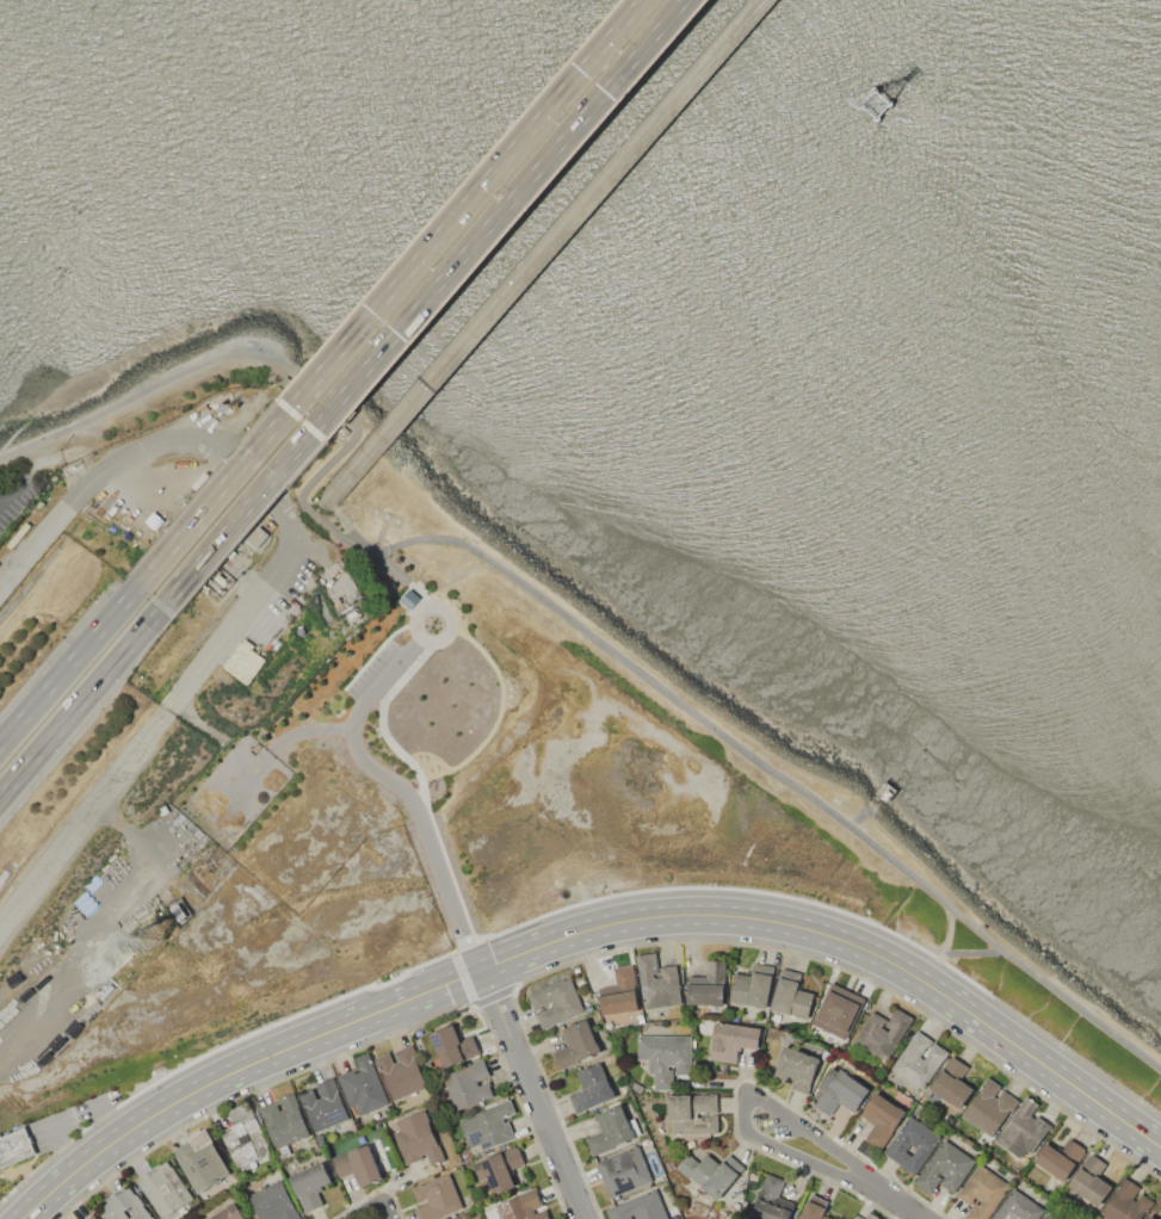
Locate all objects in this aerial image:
pier: (872, 103)
power tower: (877, 107)
road: (541, 248)
pier: (543, 248)
road: (393, 291)
road: (426, 302)
road: (11, 493)
parking lot: (14, 506)
road: (342, 520)
road: (273, 578)
building: (408, 598)
building: (243, 661)
road: (69, 664)
parking lot: (378, 673)
road: (82, 701)
road: (305, 730)
road: (402, 788)
road: (844, 911)
power tower: (156, 938)
road: (844, 940)
road: (742, 942)
road: (464, 943)
building: (656, 982)
building: (708, 985)
building: (752, 985)
building: (619, 992)
building: (791, 995)
road: (469, 1000)
building: (555, 1002)
building: (838, 1010)
building: (882, 1034)
building: (733, 1040)
road: (362, 1045)
building: (576, 1045)
building: (452, 1046)
road: (212, 1050)
building: (666, 1057)
building: (919, 1059)
building: (797, 1068)
road: (234, 1070)
building: (400, 1071)
road: (745, 1078)
building: (468, 1084)
building: (362, 1085)
building: (591, 1088)
building: (952, 1088)
building: (840, 1091)
road: (531, 1094)
road: (742, 1103)
building: (323, 1104)
building: (989, 1108)
building: (693, 1113)
building: (882, 1119)
building: (285, 1120)
building: (488, 1126)
building: (1024, 1130)
building: (610, 1131)
building: (416, 1138)
building: (245, 1141)
building: (912, 1144)
building: (14, 1147)
building: (1061, 1158)
building: (202, 1161)
building: (358, 1164)
building: (500, 1168)
building: (945, 1168)
building: (624, 1171)
building: (709, 1174)
building: (310, 1186)
building: (1088, 1186)
building: (178, 1192)
road: (371, 1192)
building: (981, 1193)
building: (437, 1198)
road: (893, 1200)
road: (370, 1201)
building: (1125, 1201)
building: (273, 1202)
building: (124, 1205)
building: (521, 1206)
building: (638, 1208)
building: (1018, 1208)
building: (768, 1211)
building: (813, 1211)
building: (229, 1213)
building: (1153, 1215)
building: (91, 1217)
building: (870, 1217)
building: (1050, 1217)

